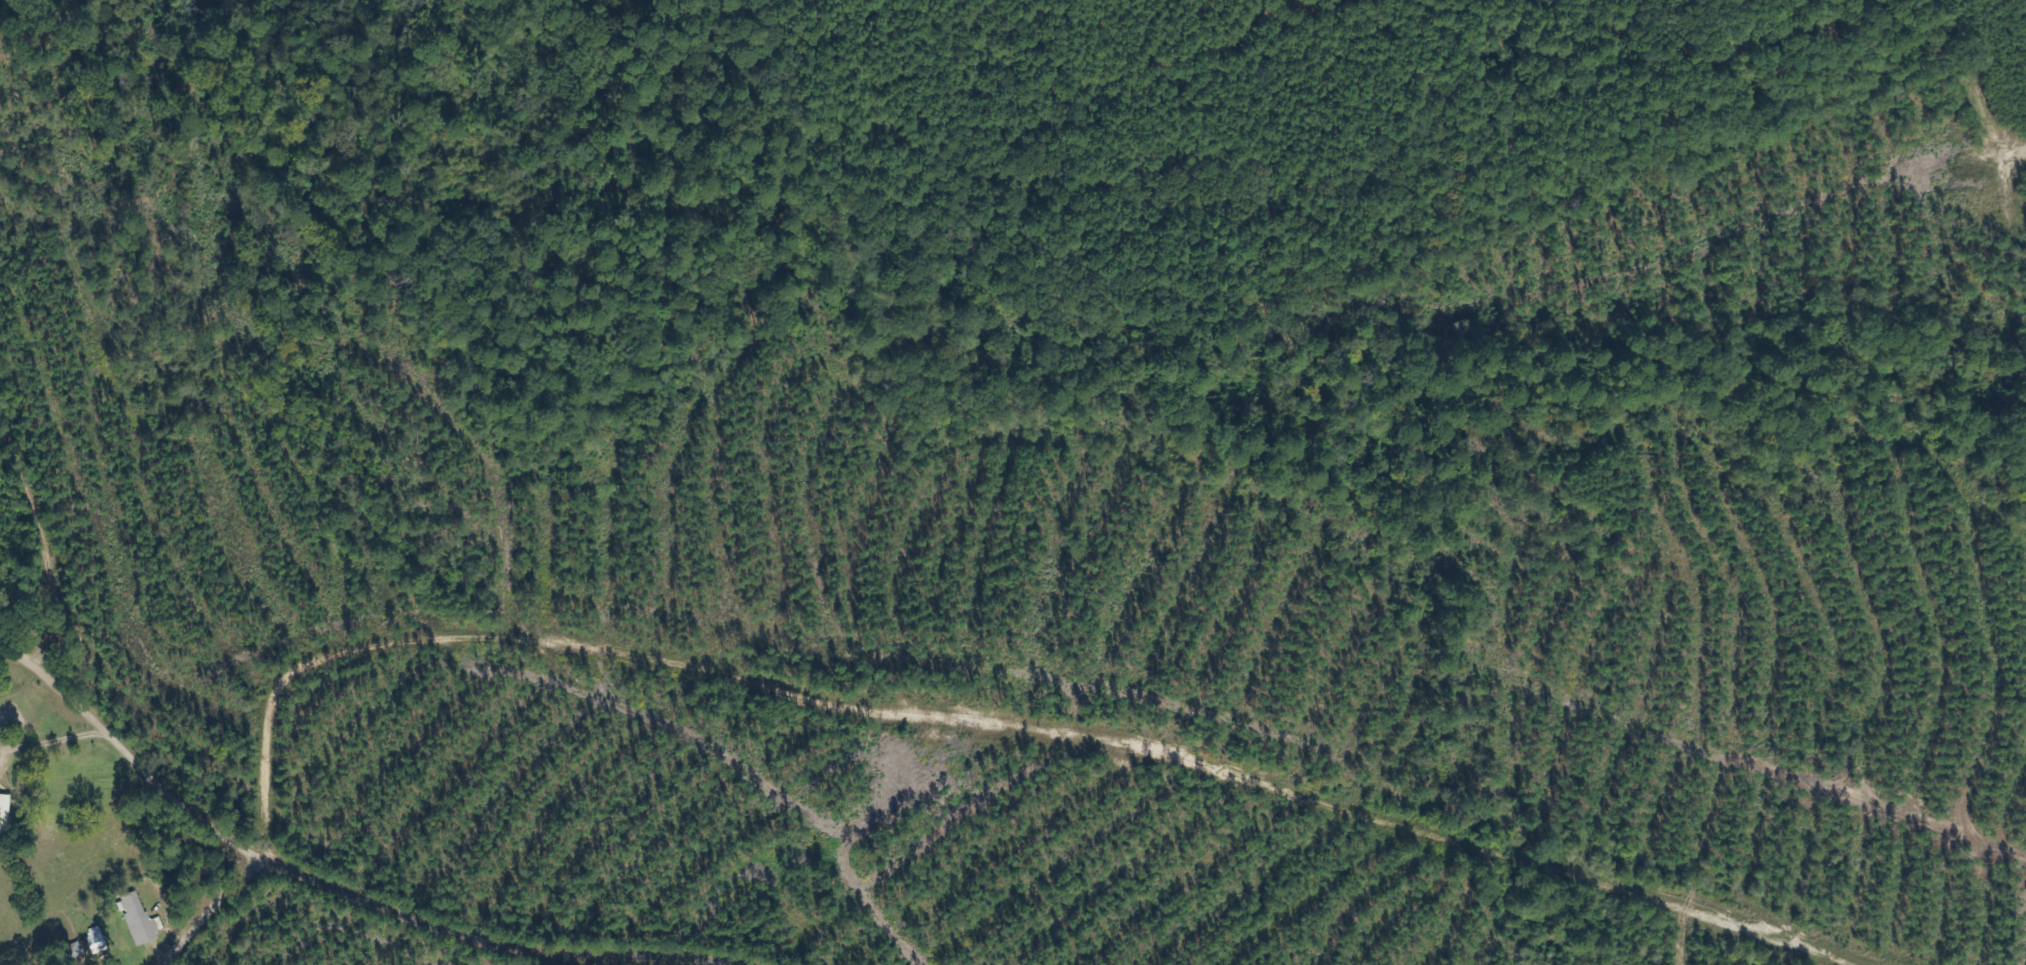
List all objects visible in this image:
road: (982, 722)
road: (131, 759)
building: (4, 811)
road: (210, 908)
building: (140, 920)
building: (97, 940)
road: (497, 943)

